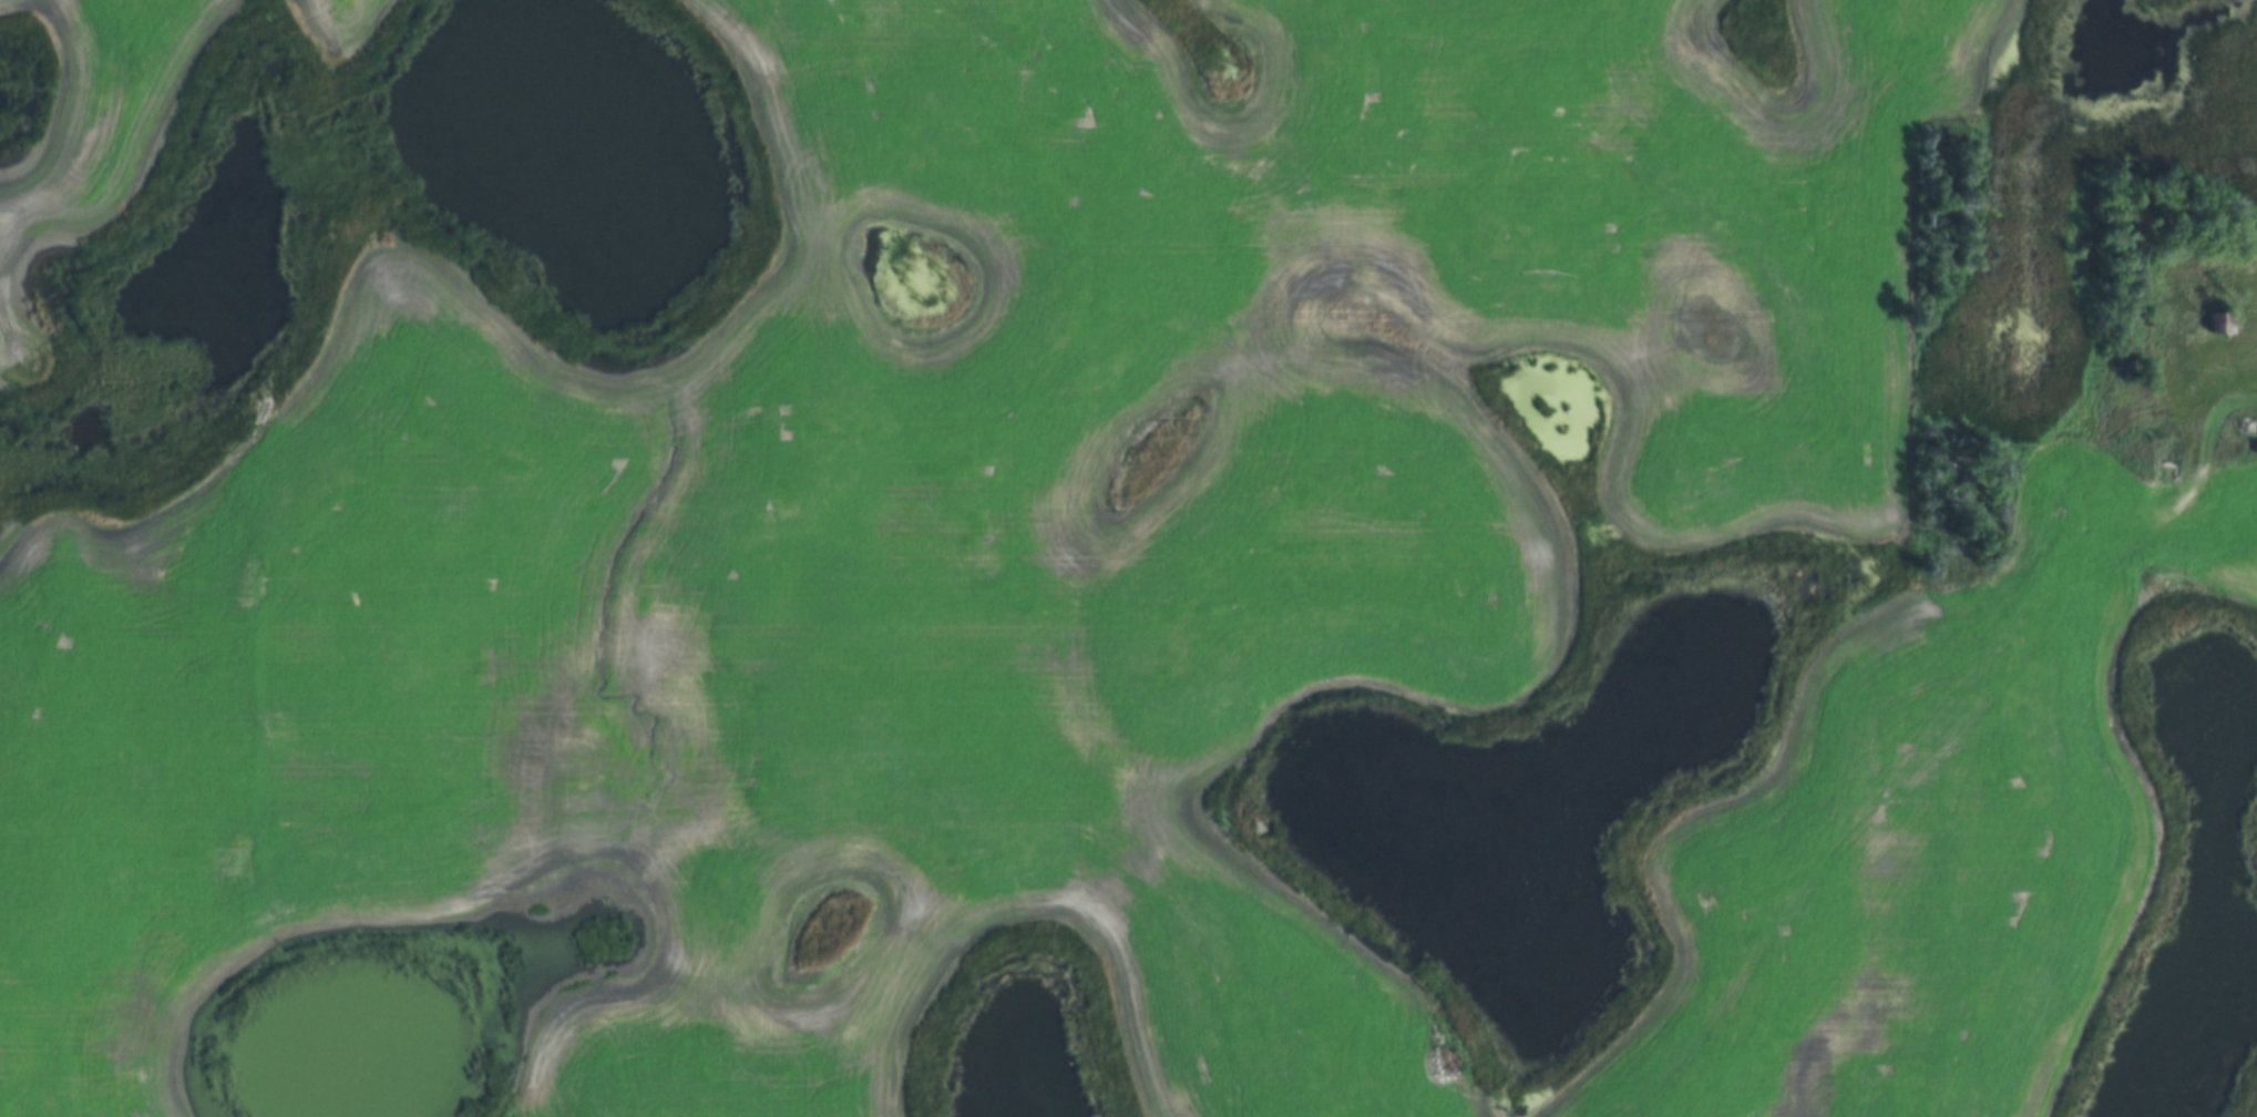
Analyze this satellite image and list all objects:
building: (2216, 322)
building: (2241, 424)

